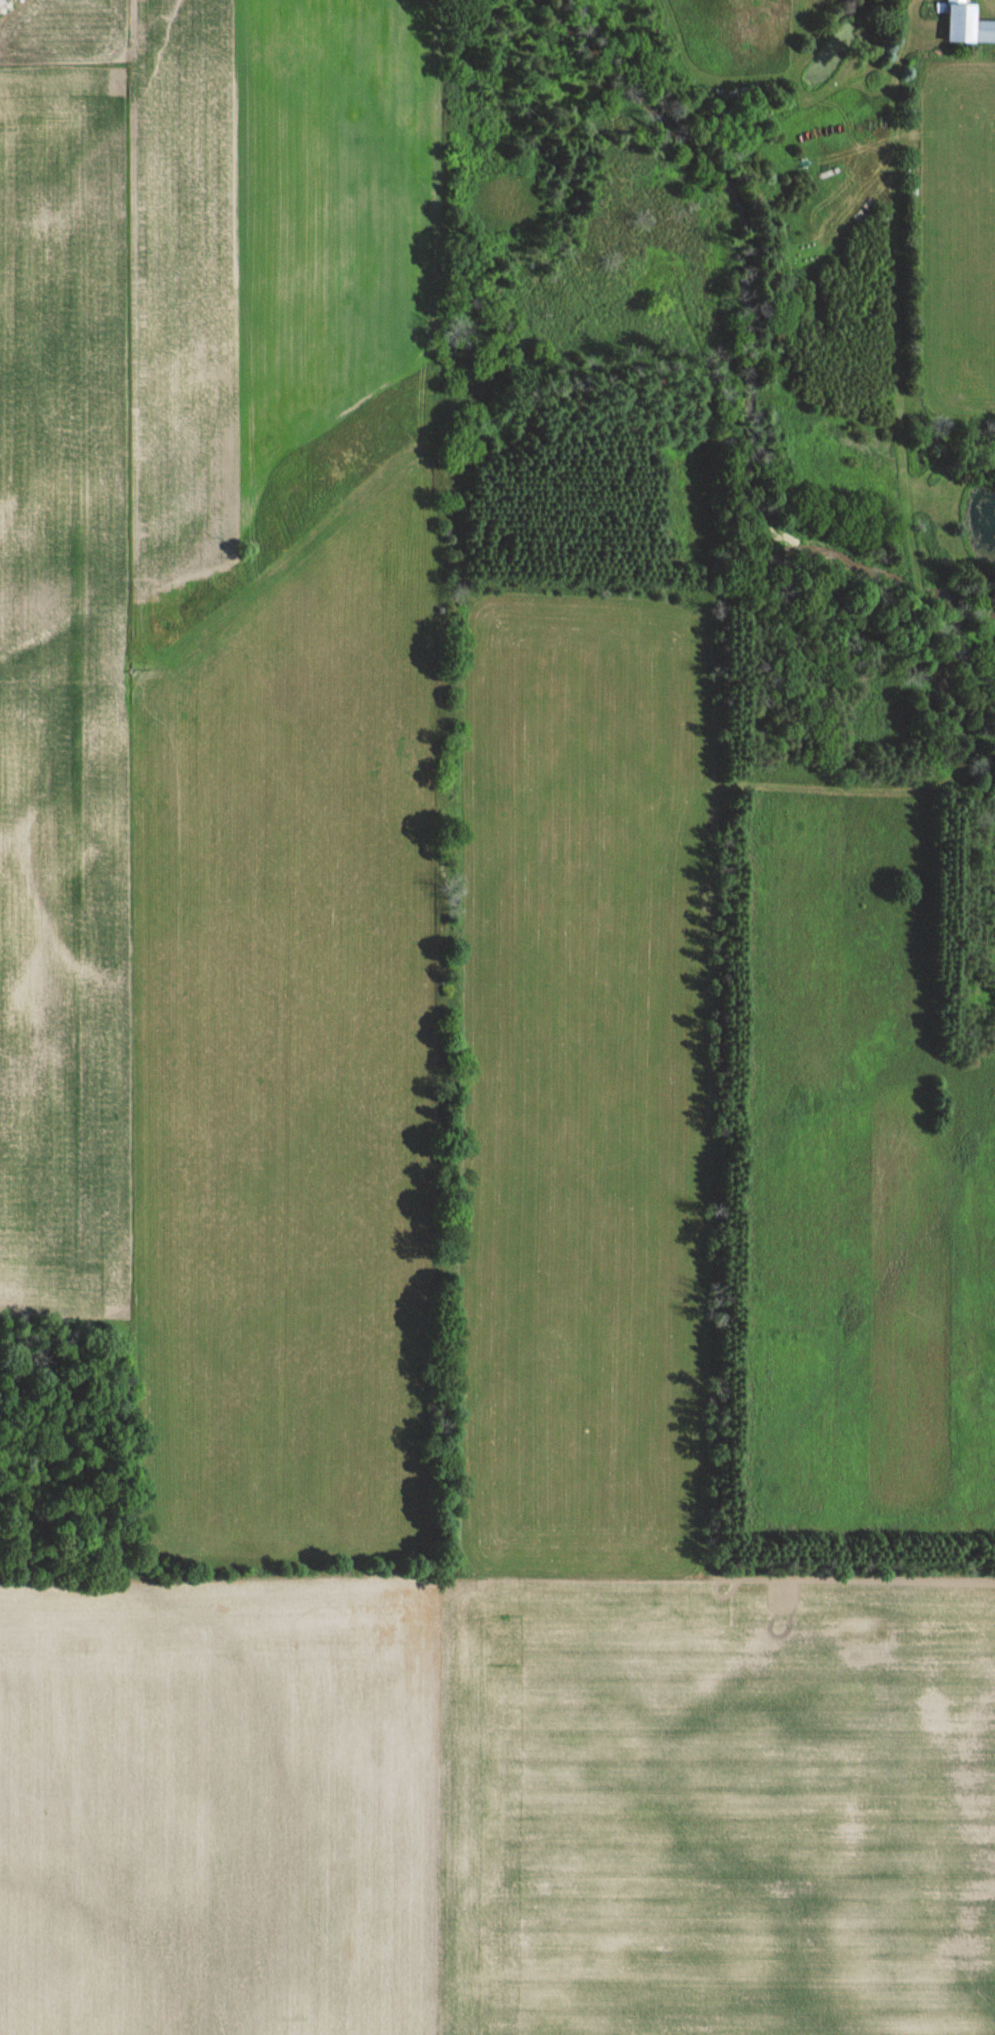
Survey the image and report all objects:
building: (971, 22)

